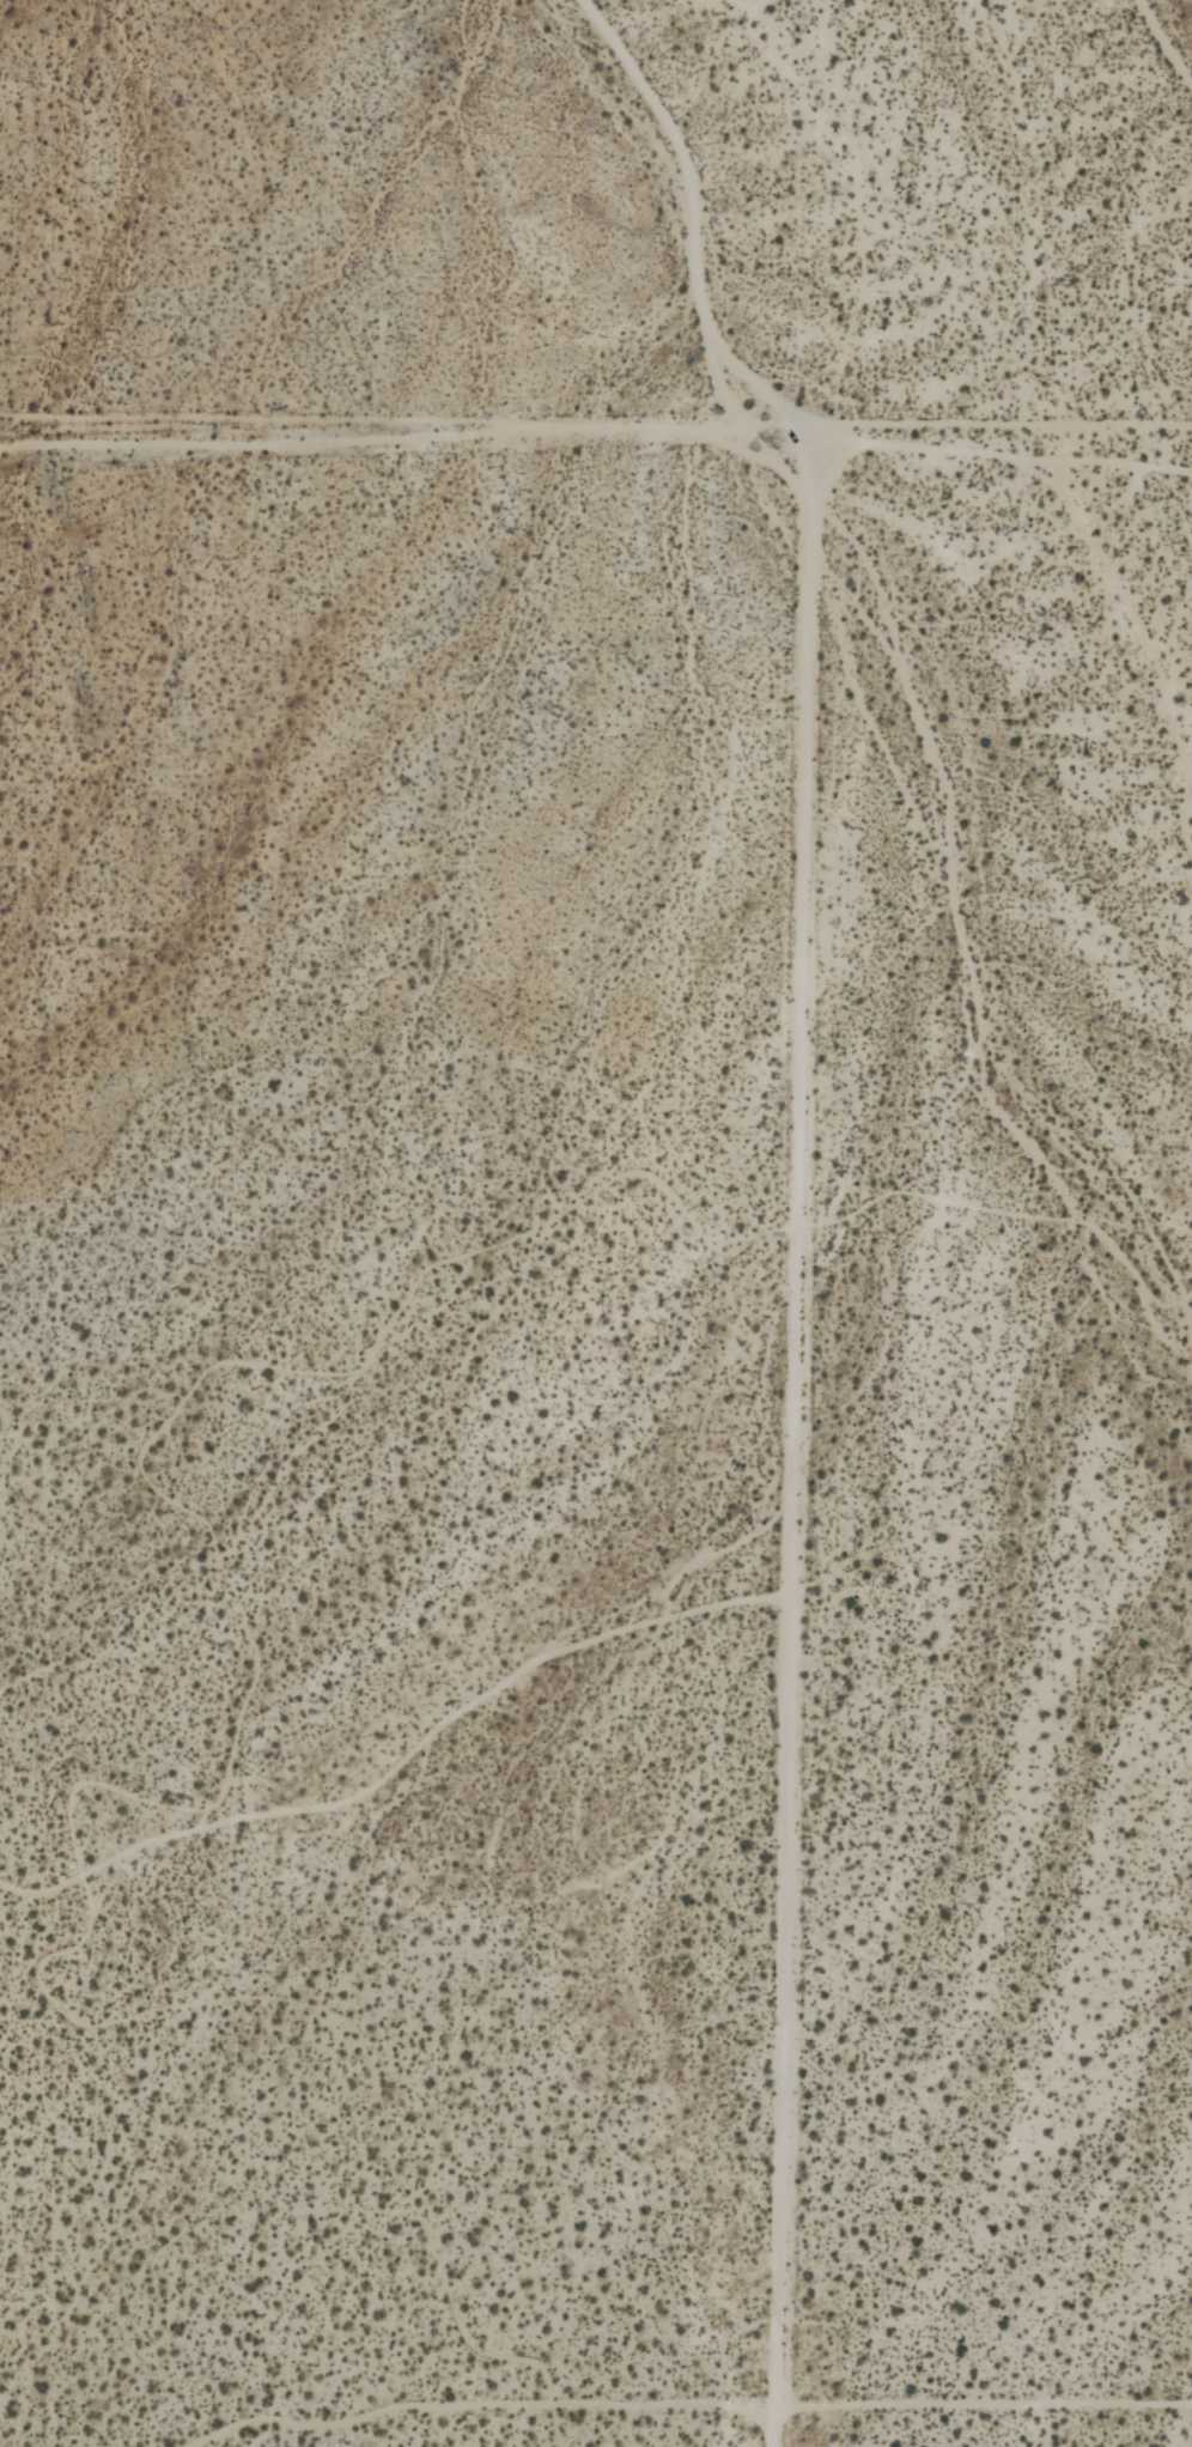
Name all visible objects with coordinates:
road: (595, 445)
road: (801, 1182)

